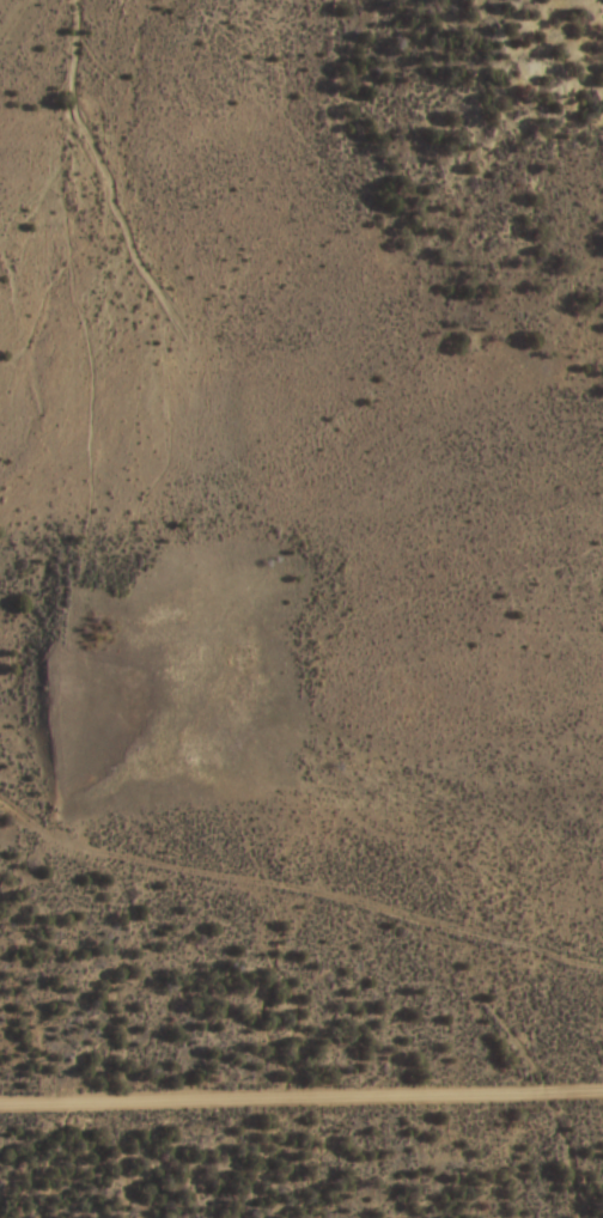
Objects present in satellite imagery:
road: (5, 7)
road: (301, 1104)

